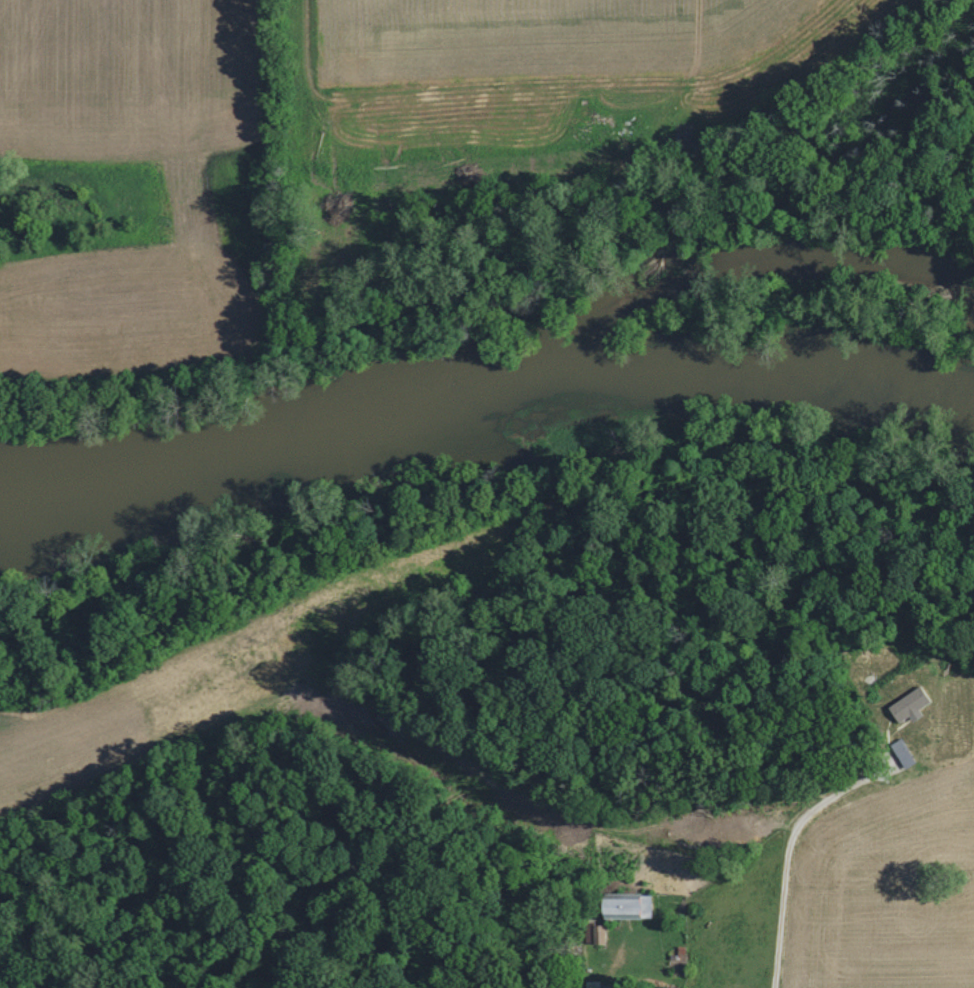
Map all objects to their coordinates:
river: (485, 440)
building: (906, 705)
building: (901, 752)
building: (622, 904)
building: (596, 934)

